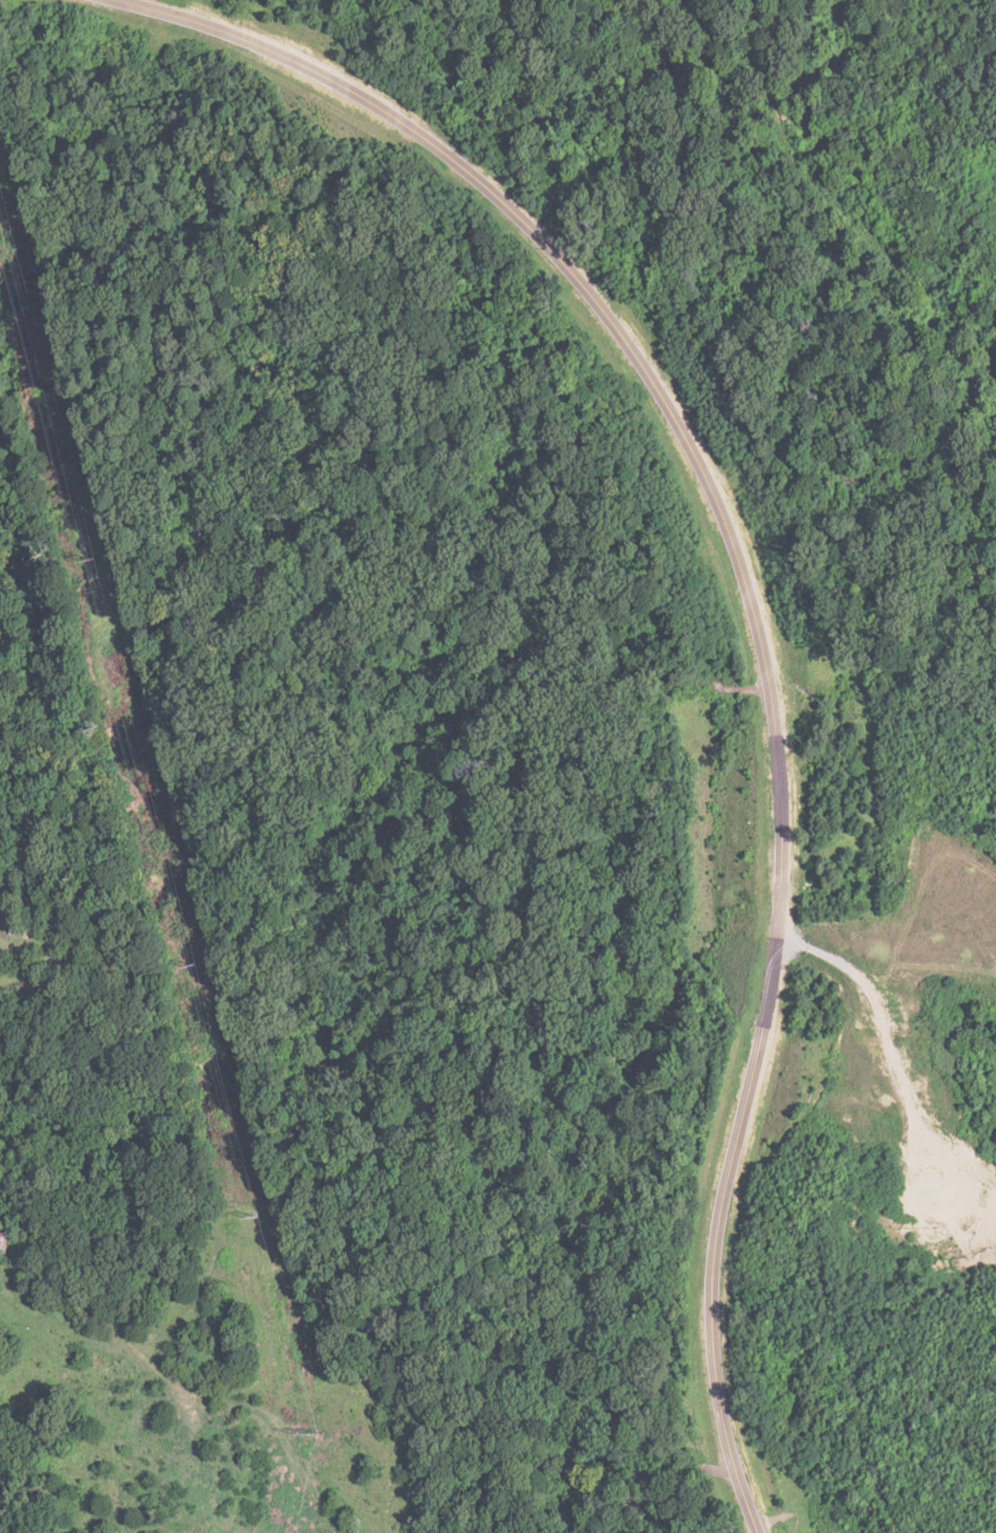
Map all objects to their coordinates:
road: (750, 619)
building: (4, 1239)
road: (189, 1387)

